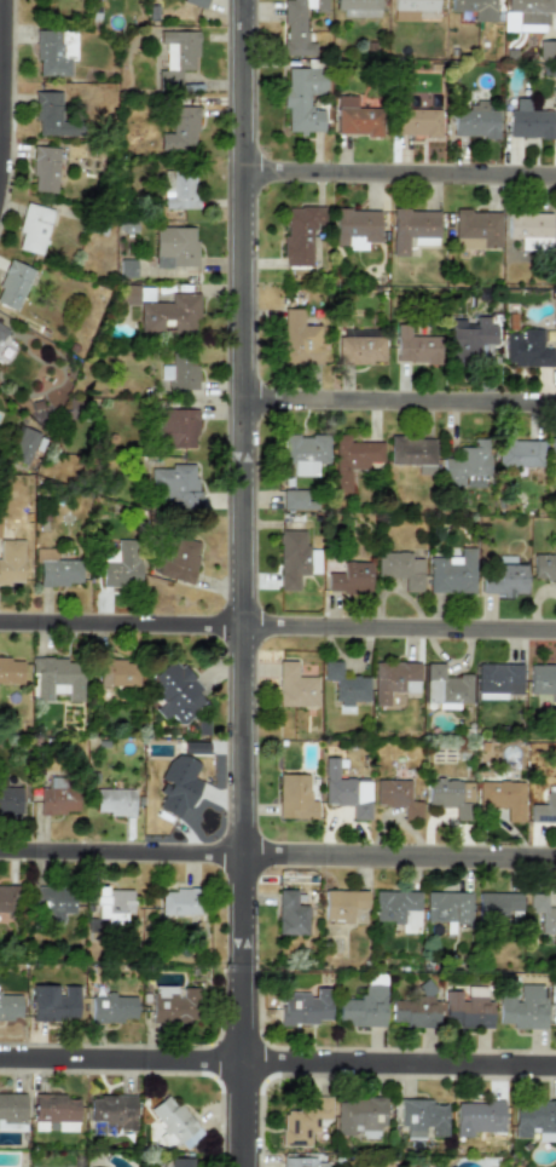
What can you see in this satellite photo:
building: (59, 0)
building: (195, 2)
building: (355, 4)
building: (410, 8)
building: (475, 8)
building: (531, 10)
building: (360, 13)
building: (297, 25)
building: (546, 48)
building: (54, 51)
building: (175, 56)
road: (2, 77)
building: (302, 98)
building: (52, 116)
building: (355, 117)
building: (417, 121)
building: (474, 121)
building: (528, 121)
building: (179, 130)
building: (44, 169)
road: (399, 179)
building: (355, 226)
building: (33, 228)
building: (412, 229)
building: (475, 229)
building: (529, 229)
building: (300, 234)
building: (174, 247)
building: (126, 268)
building: (13, 283)
building: (133, 294)
building: (169, 314)
building: (1, 330)
building: (299, 339)
building: (469, 339)
building: (415, 346)
building: (360, 349)
building: (526, 349)
building: (180, 370)
road: (399, 410)
building: (178, 427)
building: (22, 444)
building: (303, 453)
building: (412, 453)
building: (519, 453)
building: (552, 453)
building: (352, 459)
building: (467, 465)
building: (176, 485)
building: (299, 499)
building: (0, 519)
building: (179, 558)
building: (295, 558)
building: (11, 560)
building: (121, 564)
building: (544, 564)
building: (399, 568)
building: (57, 569)
building: (451, 573)
building: (347, 576)
building: (504, 580)
road: (242, 583)
road: (277, 642)
building: (10, 671)
building: (116, 672)
building: (56, 678)
building: (393, 679)
building: (543, 679)
building: (497, 680)
building: (344, 683)
building: (294, 686)
building: (445, 688)
building: (174, 691)
building: (346, 707)
building: (176, 784)
building: (344, 791)
building: (451, 795)
building: (294, 797)
building: (396, 797)
building: (57, 798)
building: (503, 798)
building: (10, 800)
building: (114, 801)
building: (544, 807)
road: (278, 855)
building: (8, 898)
building: (53, 901)
building: (179, 902)
building: (111, 904)
building: (342, 904)
building: (496, 904)
building: (446, 907)
building: (396, 908)
building: (290, 913)
building: (543, 913)
building: (53, 1002)
building: (8, 1005)
building: (173, 1005)
building: (305, 1006)
building: (111, 1007)
building: (363, 1007)
building: (522, 1007)
building: (467, 1008)
building: (413, 1012)
building: (552, 1012)
road: (120, 1073)
road: (398, 1079)
building: (112, 1110)
building: (11, 1111)
building: (53, 1113)
building: (358, 1116)
building: (476, 1117)
building: (422, 1119)
building: (534, 1119)
building: (302, 1121)
building: (173, 1123)
building: (180, 1162)
building: (301, 1162)
building: (417, 1166)
building: (452, 1166)

